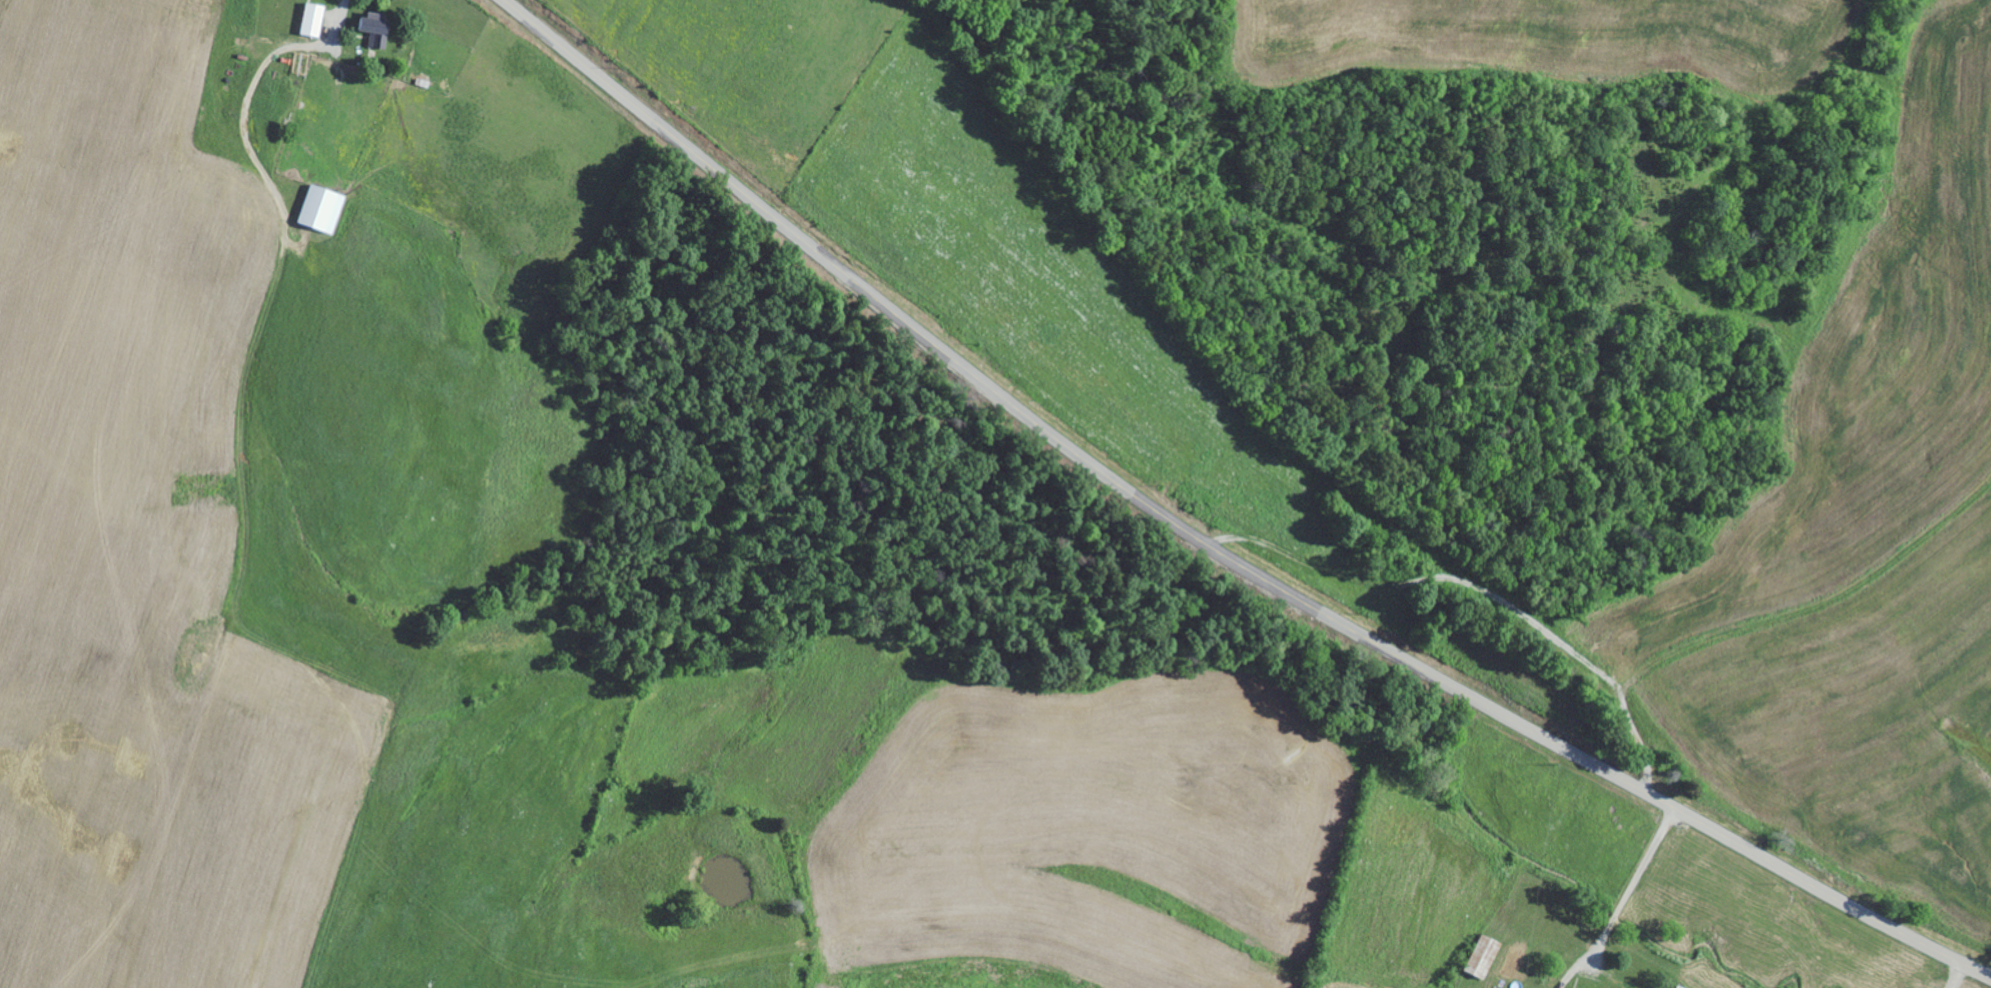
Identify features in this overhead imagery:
building: (317, 19)
road: (334, 22)
building: (379, 29)
building: (325, 208)
road: (1209, 546)
road: (1574, 620)
building: (1486, 957)
building: (1672, 986)

